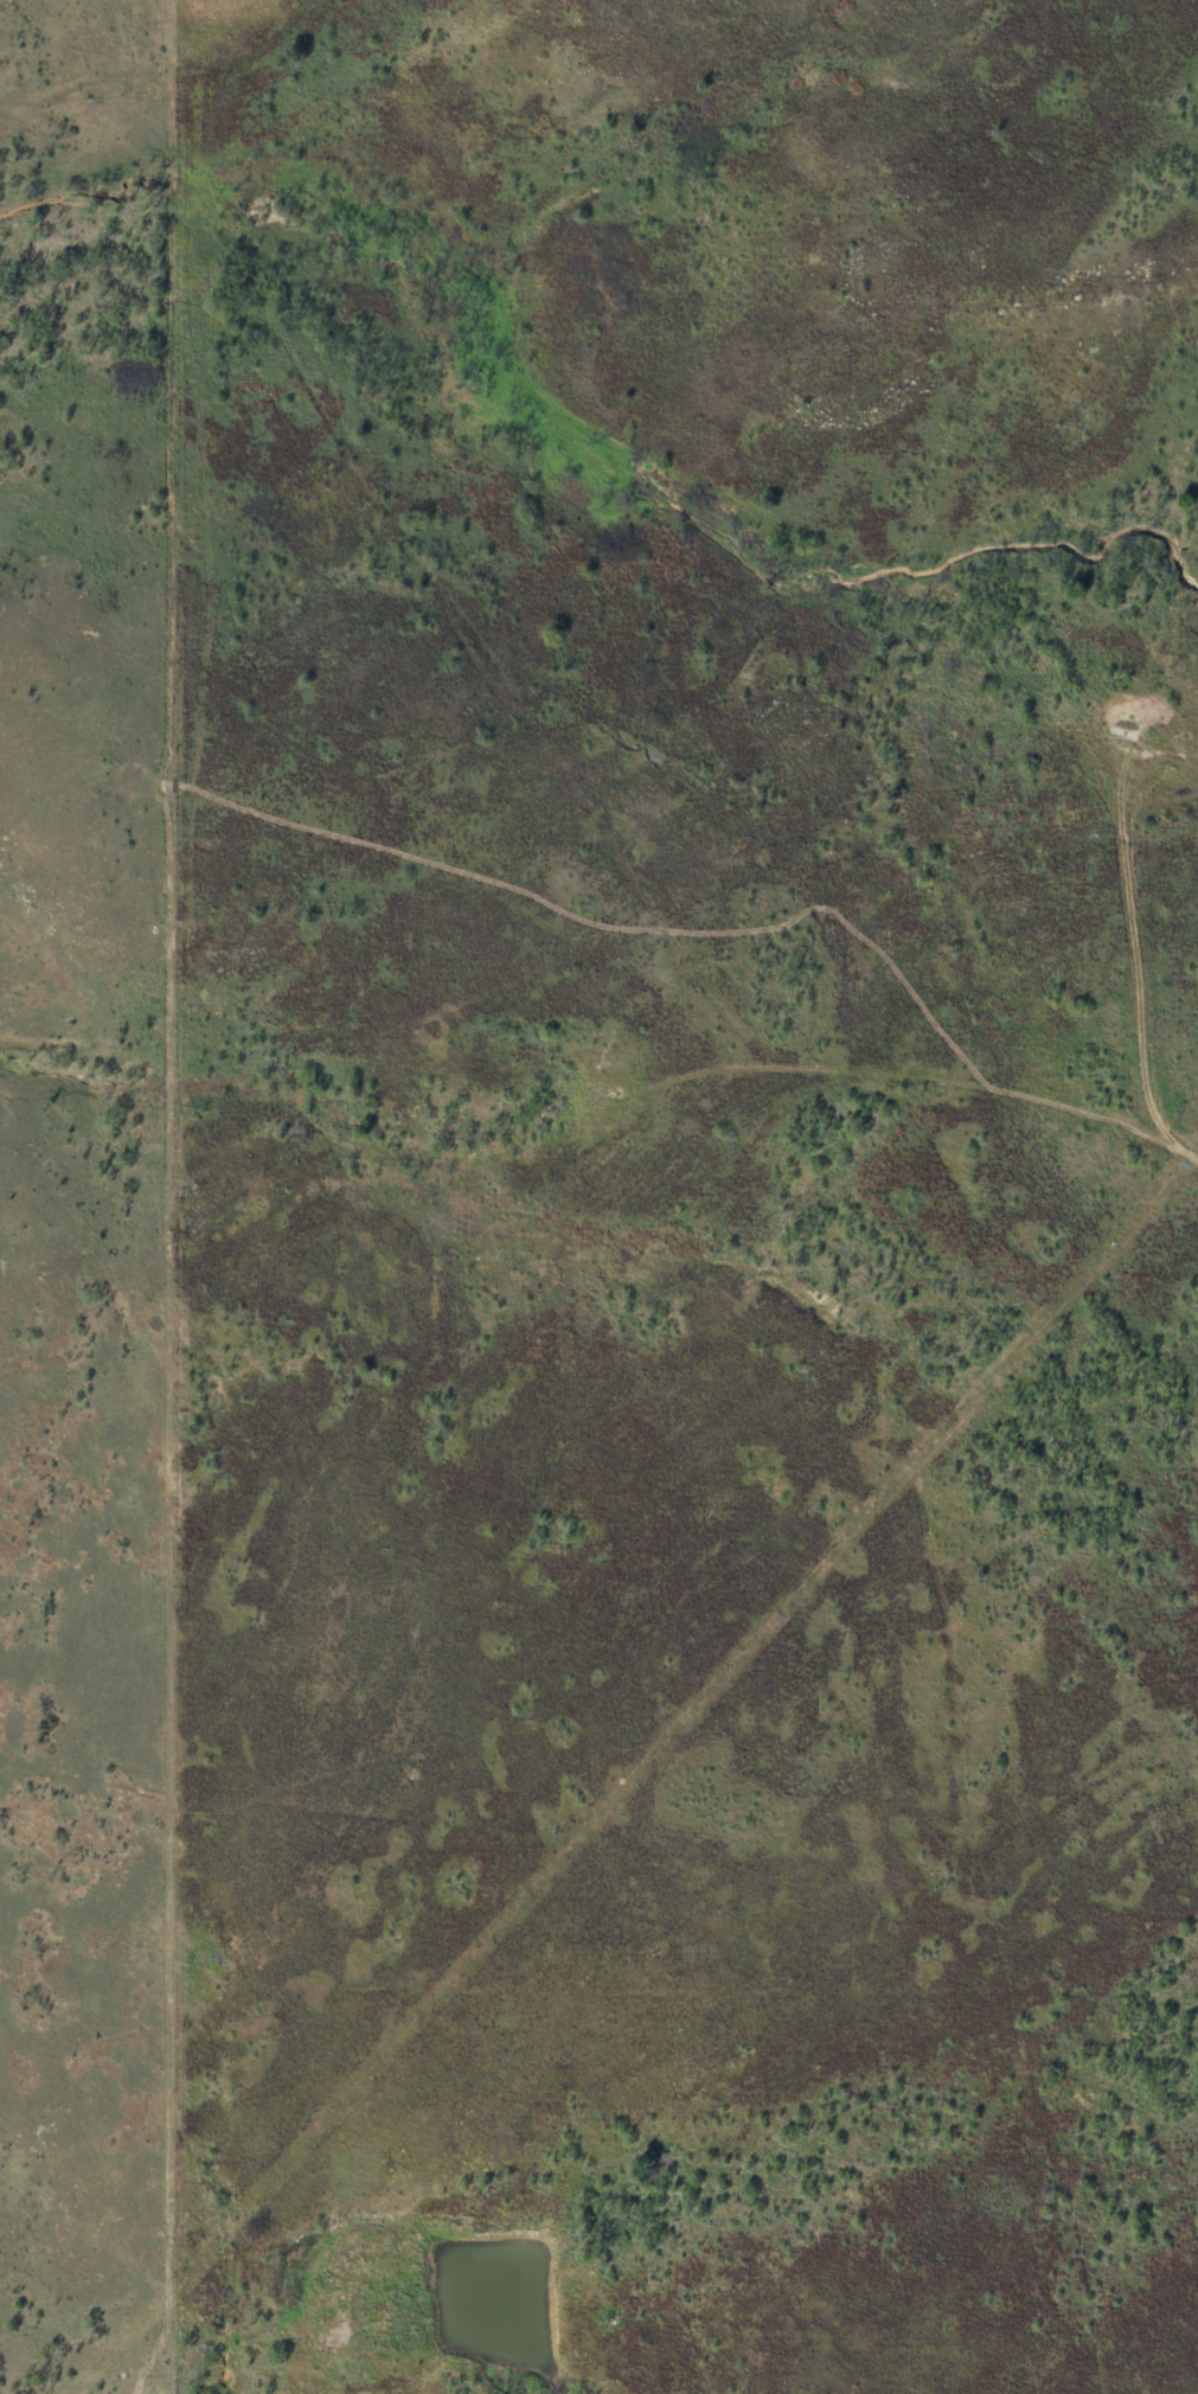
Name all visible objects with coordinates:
road: (1127, 955)
road: (988, 1151)
road: (645, 1169)
road: (83, 2324)

